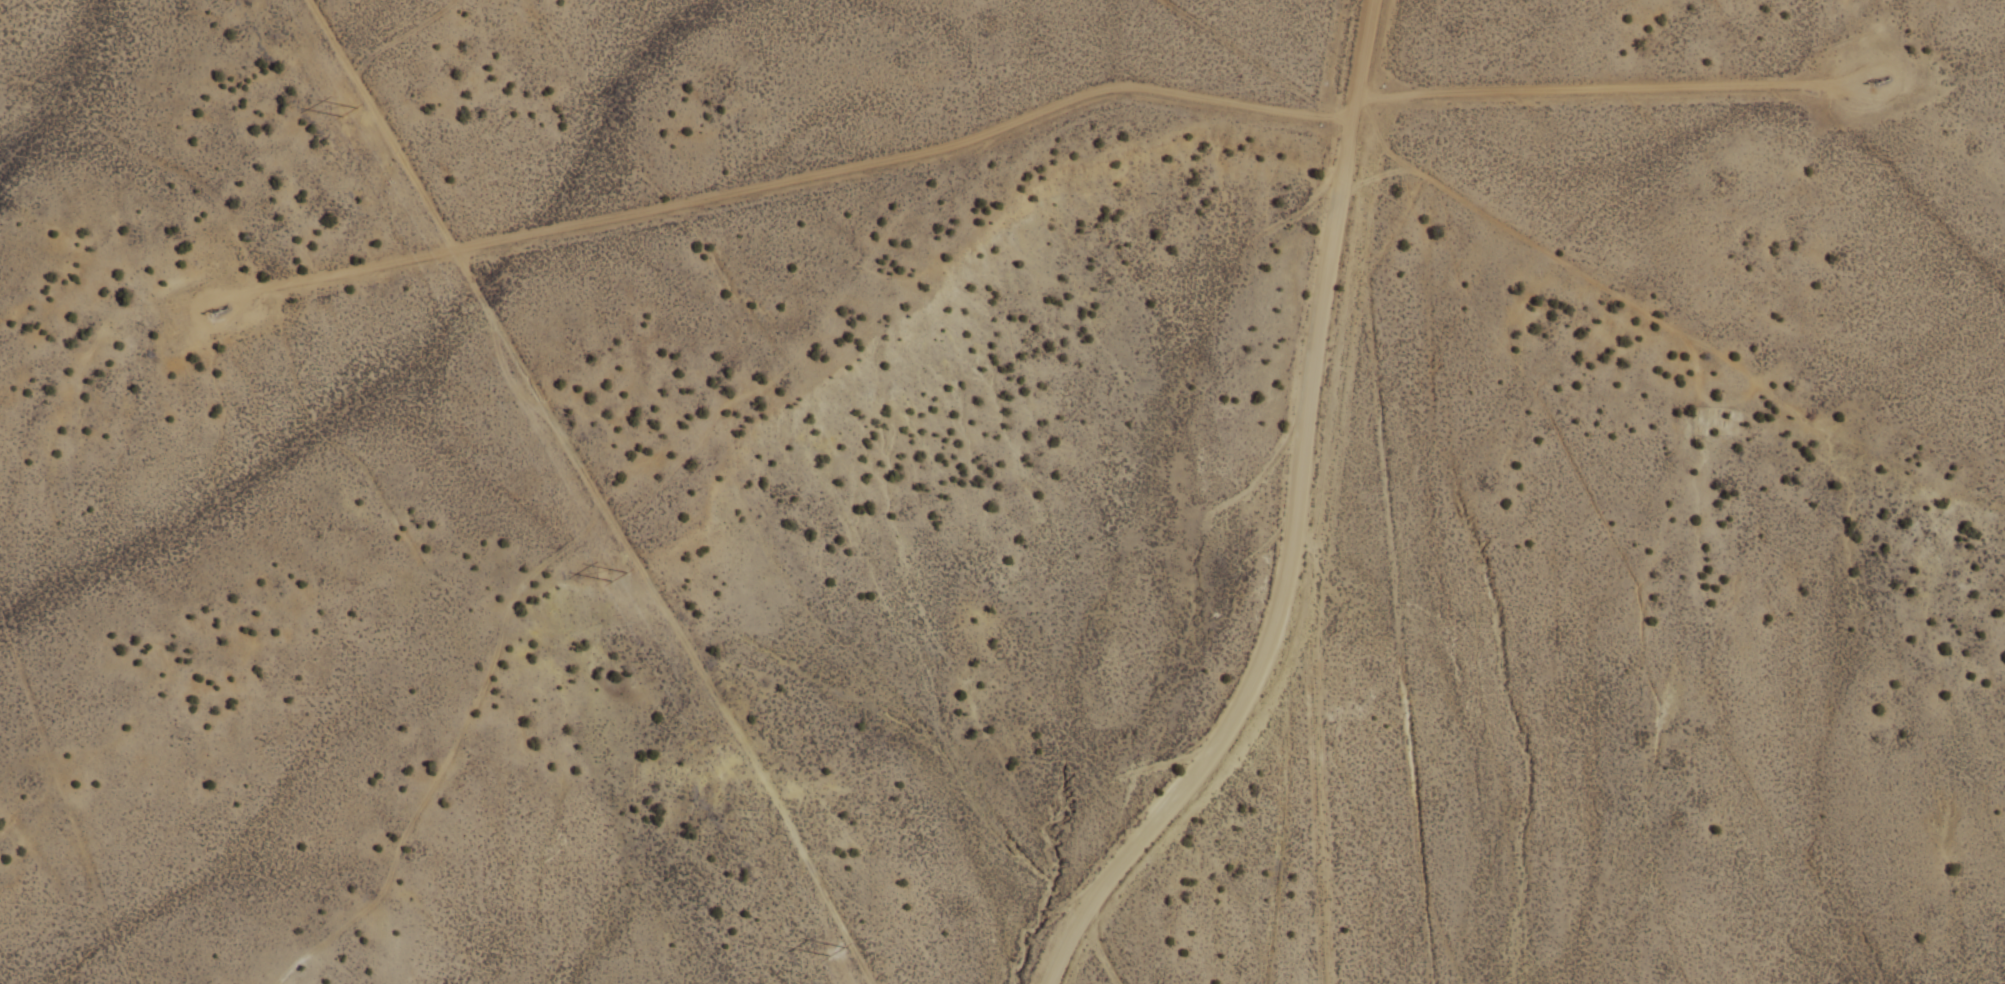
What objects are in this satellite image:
power tower: (349, 125)
road: (1303, 532)
power tower: (613, 573)
power tower: (830, 950)

